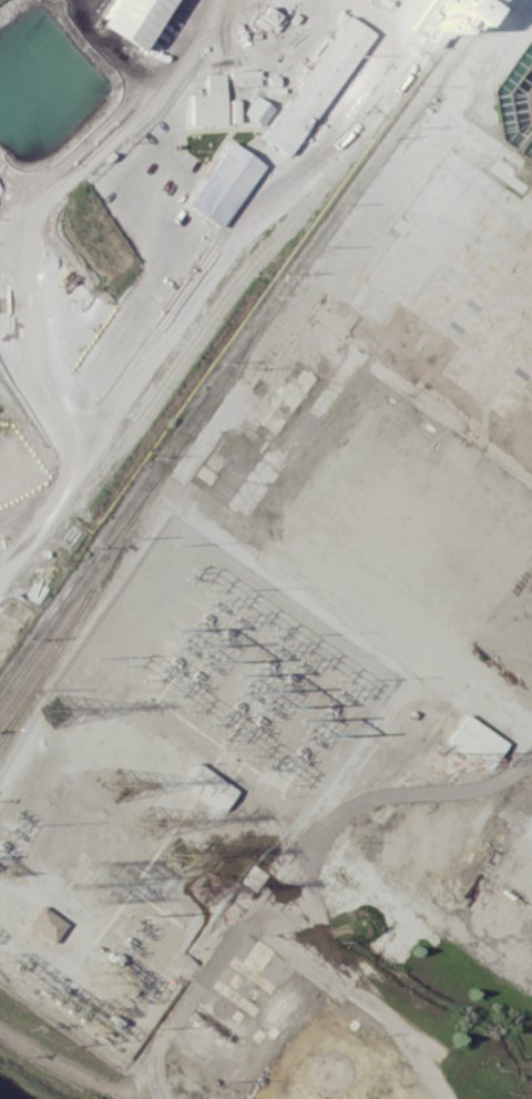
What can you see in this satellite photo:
building: (131, 19)
building: (439, 20)
building: (318, 84)
building: (209, 102)
building: (234, 110)
building: (258, 110)
building: (224, 184)
road: (209, 289)
railway: (209, 308)
railway: (222, 311)
railway: (245, 342)
road: (245, 502)
road: (42, 517)
power tower: (55, 710)
power tower: (119, 785)
power substation: (165, 785)
road: (409, 793)
power tower: (154, 818)
power tower: (183, 853)
power tower: (204, 887)
road: (266, 894)
building: (47, 924)
road: (357, 988)
power tower: (76, 1008)
road: (182, 1012)

